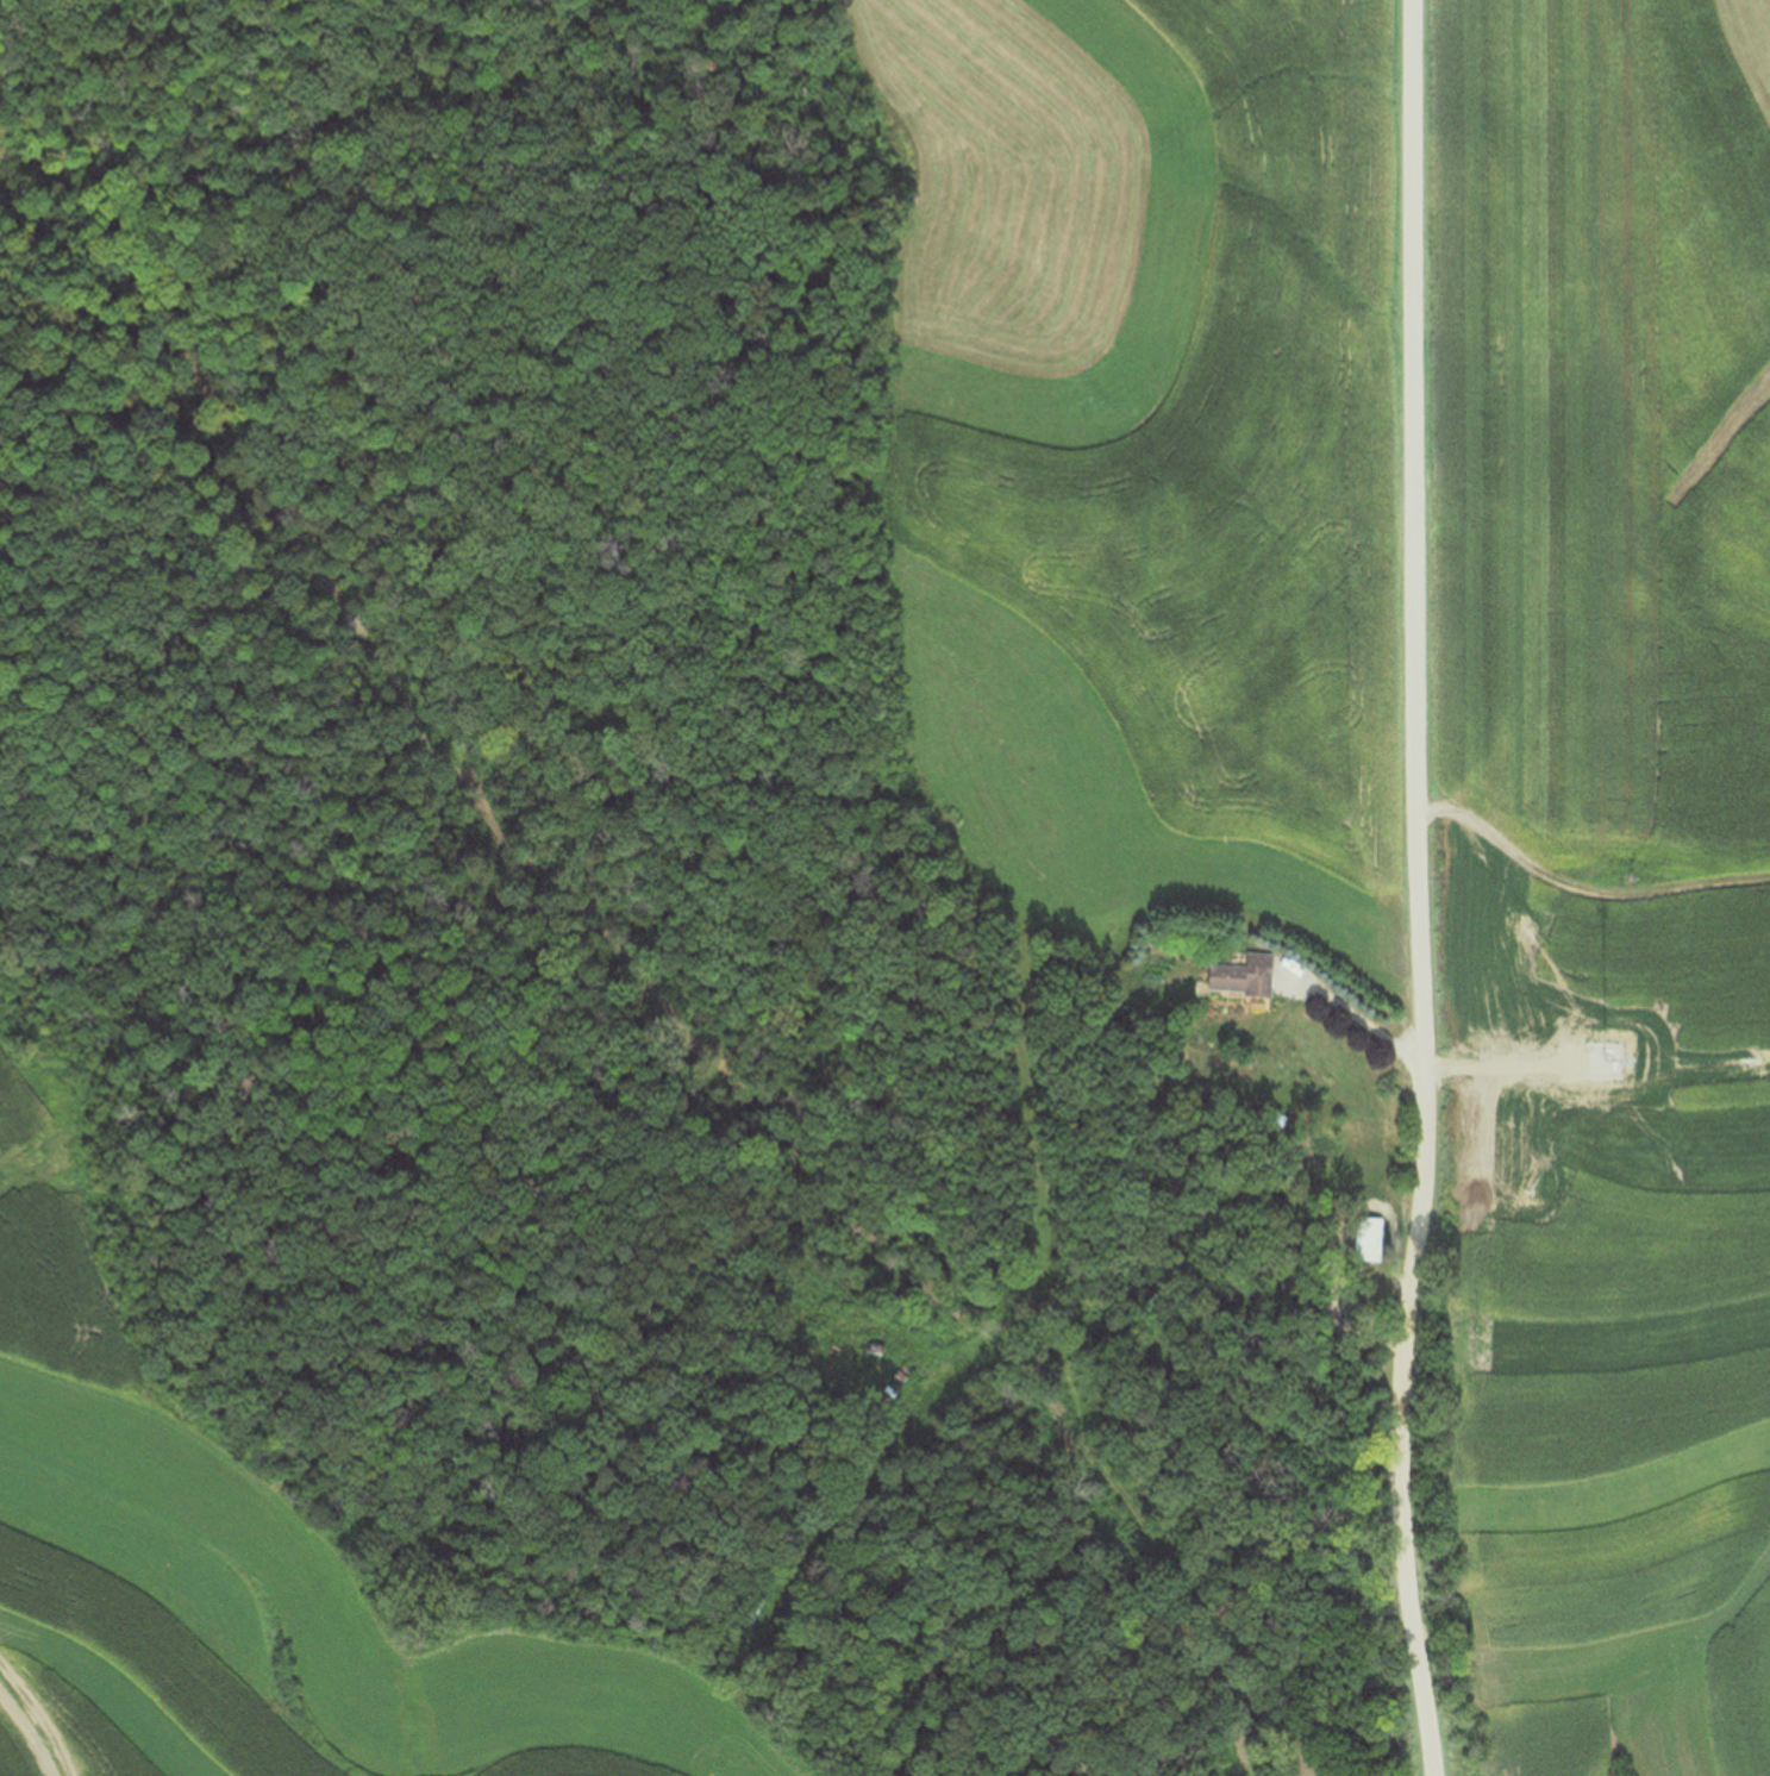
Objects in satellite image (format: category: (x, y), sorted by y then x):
road: (1415, 890)
building: (1234, 976)
road: (1363, 1020)
building: (1370, 1238)

